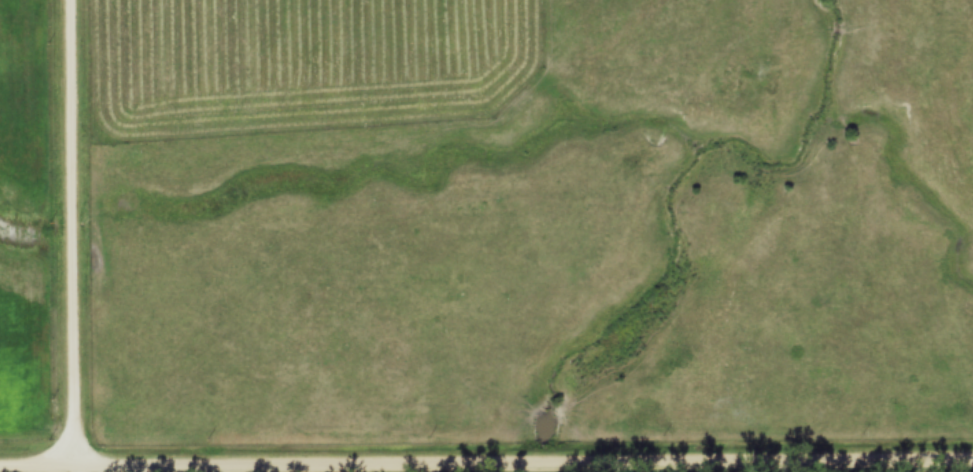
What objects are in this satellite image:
road: (70, 235)
road: (522, 466)
road: (36, 470)

